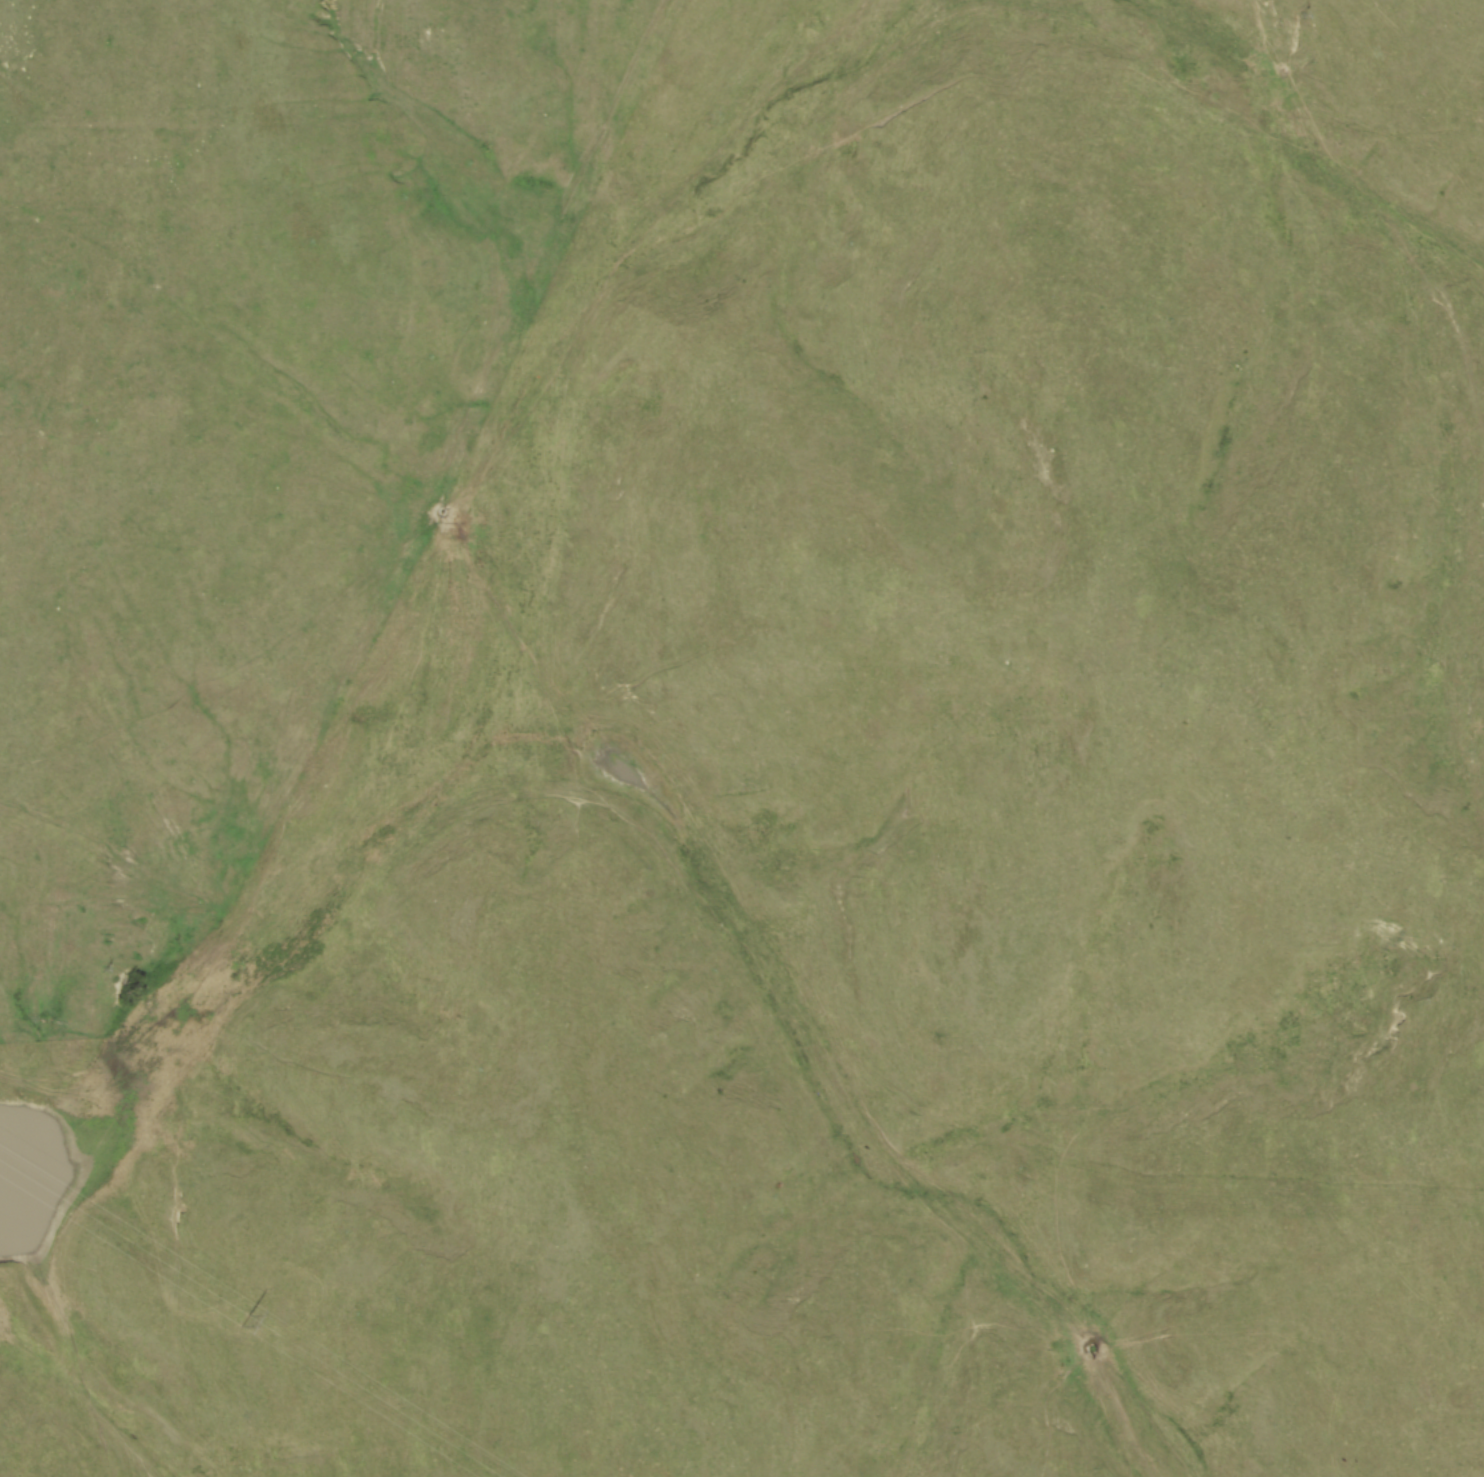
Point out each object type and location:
power tower: (245, 1322)

